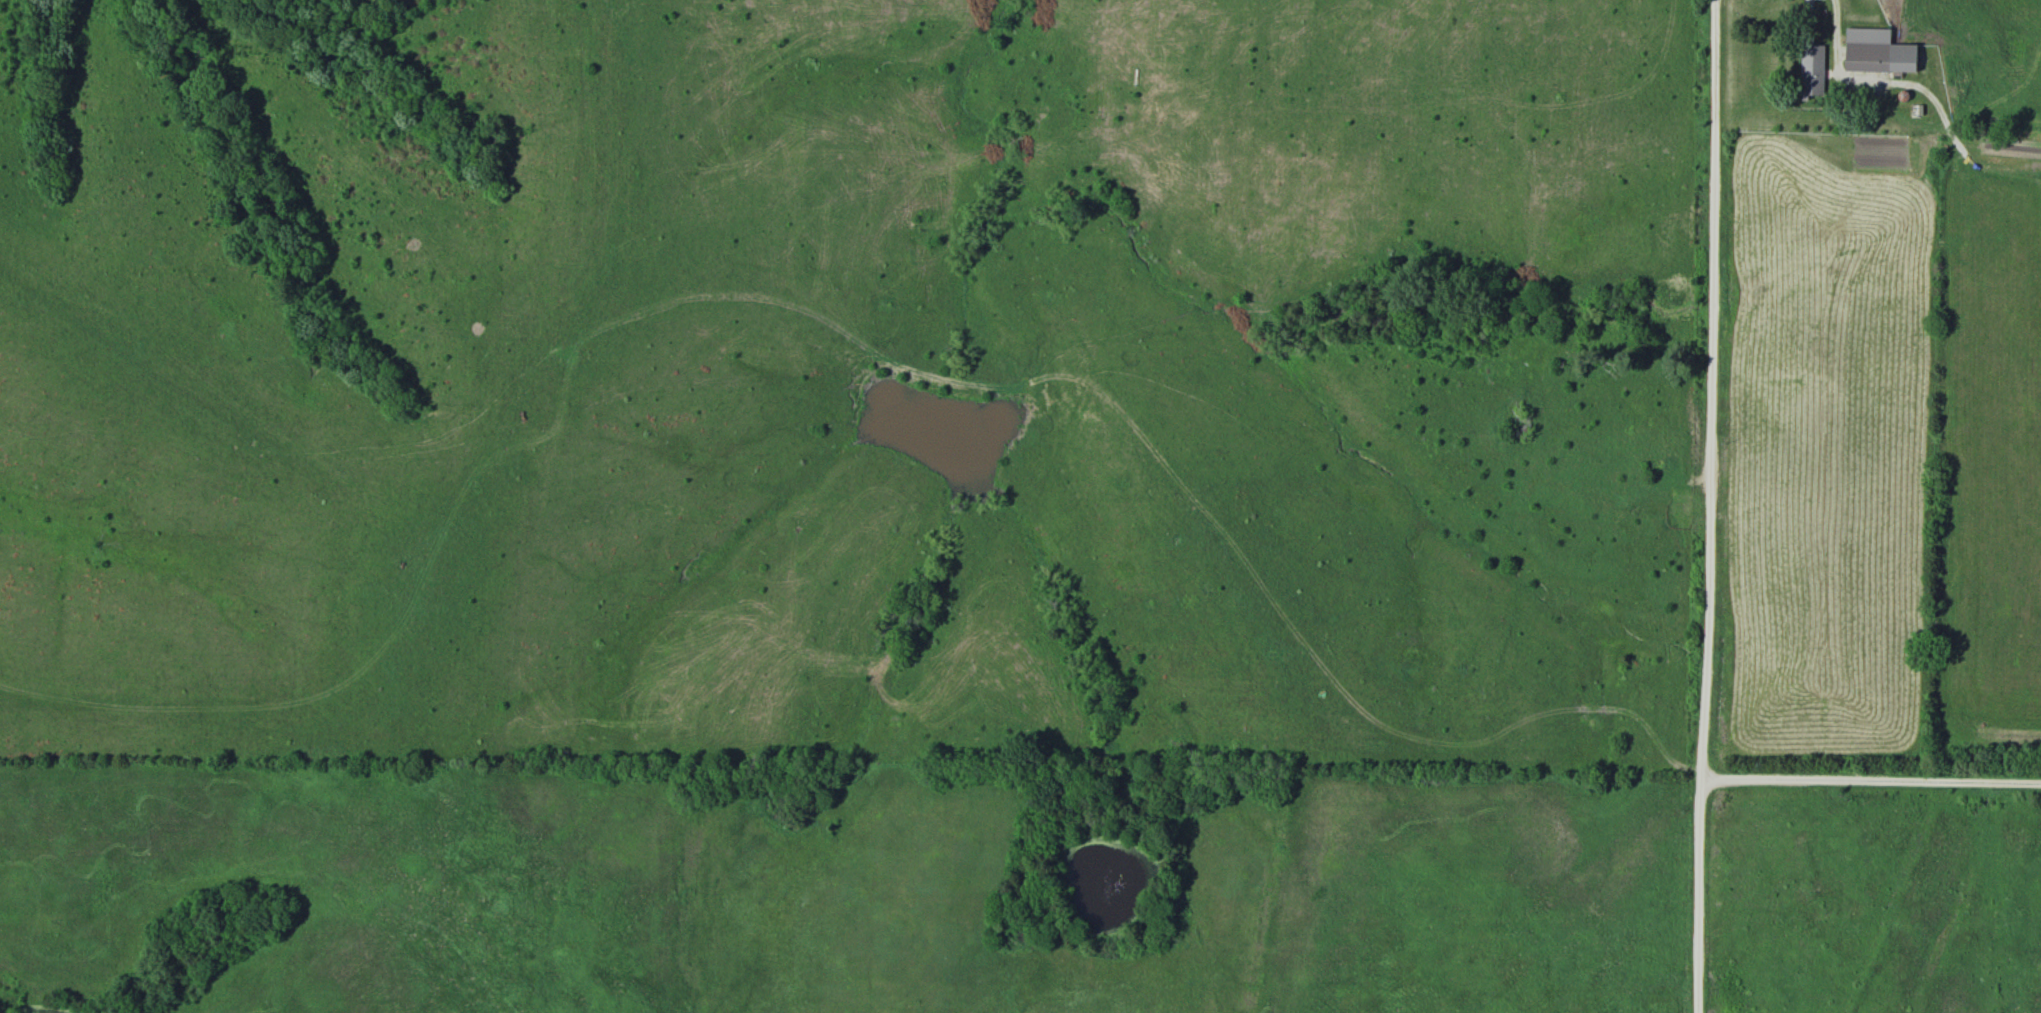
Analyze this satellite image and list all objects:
building: (1874, 51)
building: (1809, 68)
road: (1713, 506)
road: (1872, 797)

